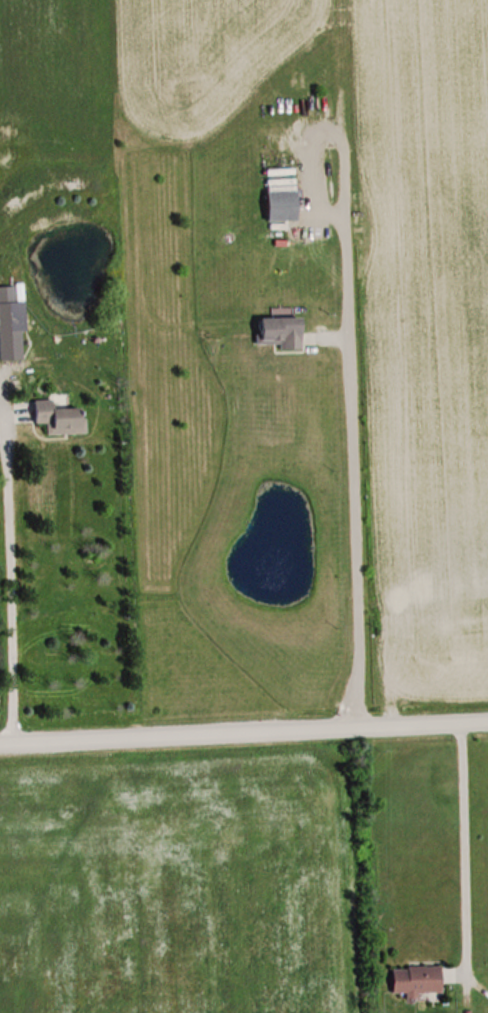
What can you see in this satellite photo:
building: (281, 198)
building: (11, 330)
building: (278, 331)
building: (58, 417)
road: (244, 732)
building: (415, 979)

